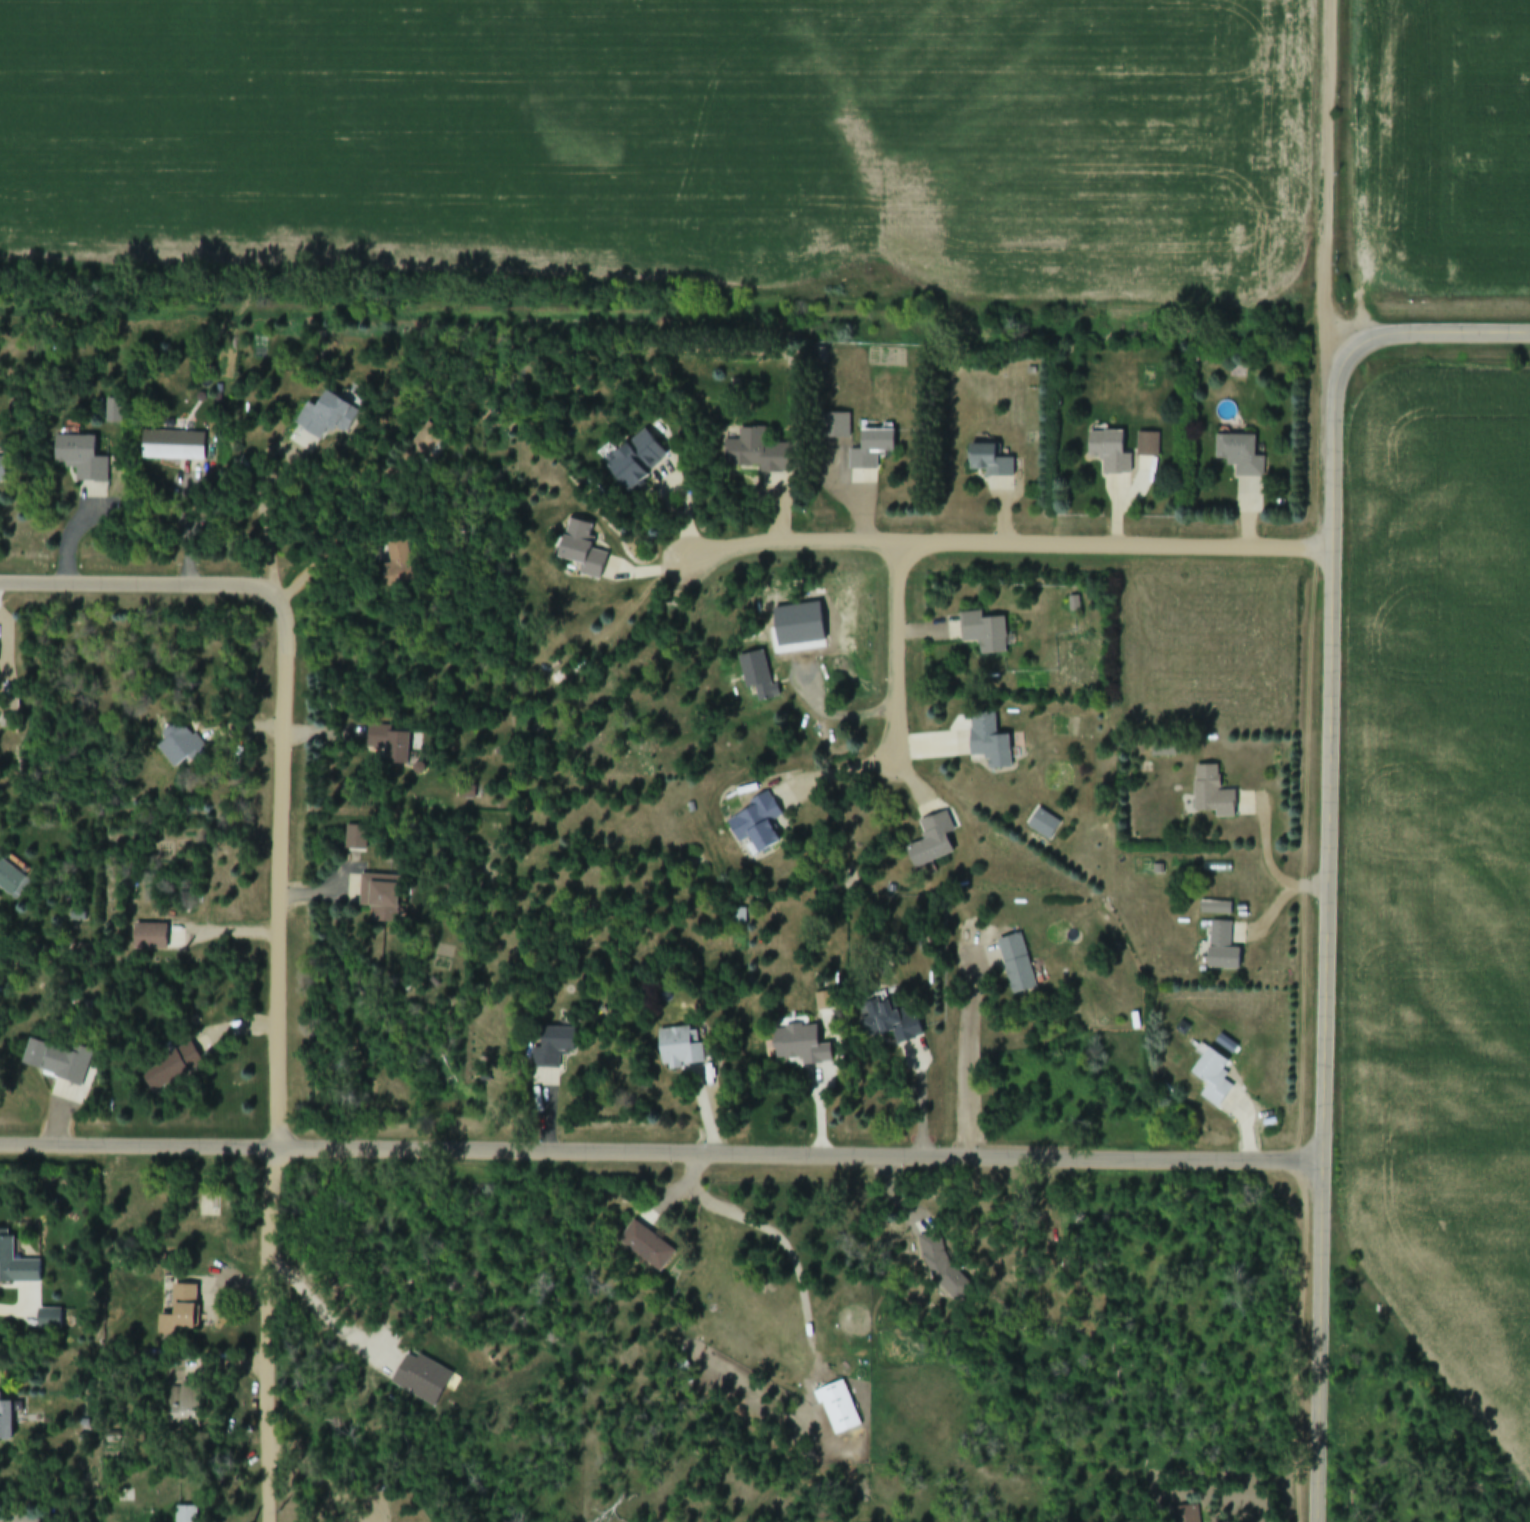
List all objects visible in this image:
road: (1354, 171)
road: (1327, 190)
road: (660, 254)
building: (113, 412)
building: (328, 418)
building: (835, 427)
building: (427, 440)
building: (1147, 445)
building: (172, 447)
building: (872, 450)
building: (1110, 453)
building: (759, 454)
building: (1241, 456)
building: (81, 459)
building: (642, 463)
building: (989, 463)
building: (3, 472)
road: (1013, 544)
building: (583, 550)
building: (396, 566)
road: (92, 583)
building: (1074, 605)
building: (795, 634)
building: (984, 634)
road: (898, 655)
building: (757, 678)
building: (390, 746)
building: (181, 747)
building: (991, 750)
building: (1163, 750)
building: (1212, 794)
road: (280, 825)
building: (1043, 826)
building: (756, 827)
building: (932, 843)
road: (1327, 843)
building: (10, 880)
building: (378, 894)
building: (150, 939)
building: (1223, 949)
building: (1017, 966)
building: (823, 1003)
building: (889, 1023)
building: (801, 1047)
building: (553, 1049)
building: (680, 1049)
building: (56, 1063)
building: (171, 1069)
building: (1214, 1079)
road: (660, 1154)
building: (212, 1206)
building: (646, 1248)
building: (15, 1265)
building: (182, 1312)
road: (271, 1335)
building: (185, 1407)
building: (838, 1410)
building: (5, 1423)
building: (186, 1515)

